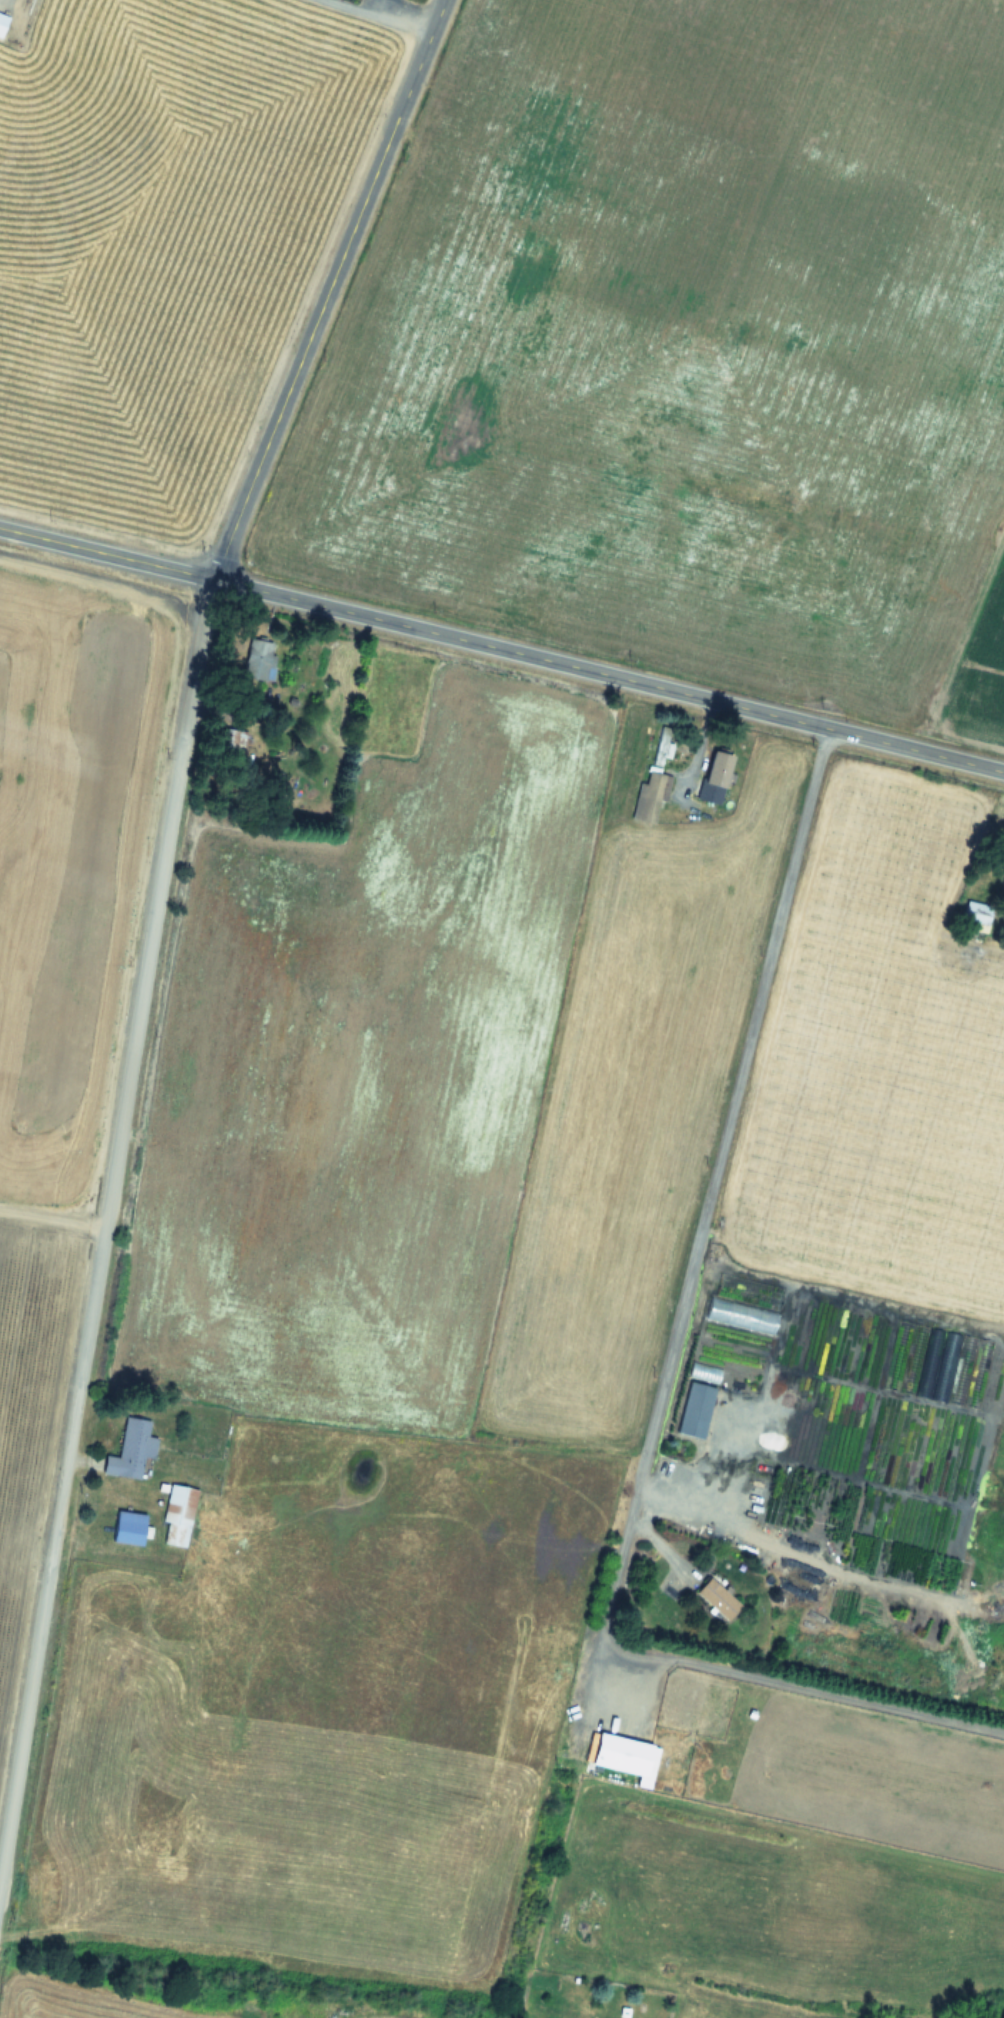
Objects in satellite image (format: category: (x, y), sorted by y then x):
road: (386, 16)
building: (2, 22)
crop: (162, 240)
road: (327, 289)
road: (106, 552)
building: (258, 659)
road: (608, 674)
building: (230, 738)
road: (34, 757)
building: (716, 774)
building: (654, 778)
building: (977, 912)
crop: (64, 970)
road: (129, 1068)
crop: (583, 1095)
road: (714, 1183)
road: (53, 1216)
building: (741, 1316)
building: (705, 1371)
building: (696, 1409)
building: (131, 1449)
road: (683, 1491)
building: (179, 1514)
building: (129, 1527)
building: (718, 1598)
road: (800, 1686)
road: (26, 1717)
building: (627, 1756)
building: (34, 1891)

